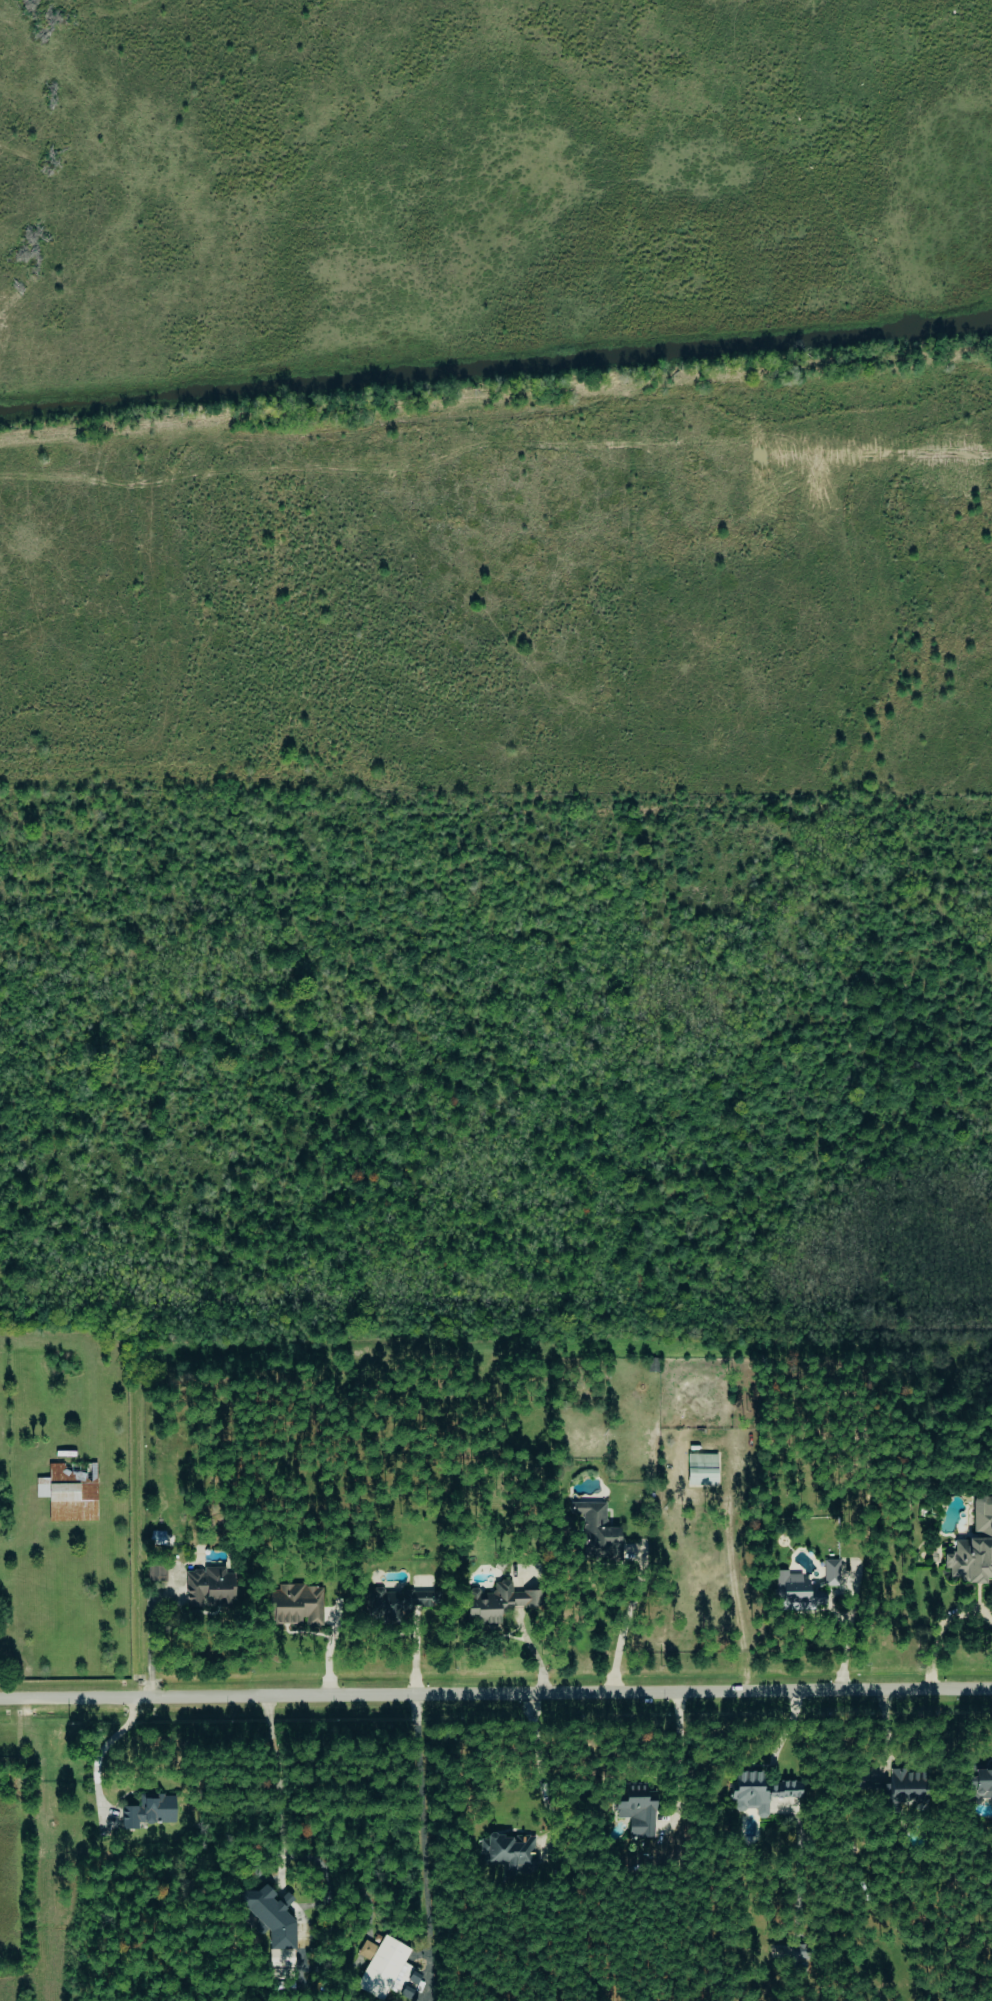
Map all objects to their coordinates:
building: (702, 1469)
building: (69, 1493)
building: (602, 1539)
building: (974, 1547)
building: (156, 1572)
building: (831, 1572)
building: (209, 1586)
building: (797, 1592)
building: (423, 1598)
road: (734, 1598)
building: (497, 1602)
building: (296, 1604)
road: (851, 1612)
road: (625, 1628)
road: (937, 1630)
road: (149, 1644)
road: (414, 1652)
road: (533, 1653)
road: (496, 1696)
road: (101, 1750)
road: (679, 1753)
road: (540, 1766)
building: (980, 1783)
building: (908, 1787)
building: (761, 1789)
road: (278, 1790)
building: (149, 1811)
building: (638, 1811)
road: (424, 1846)
building: (513, 1853)
building: (274, 1923)
building: (387, 1969)

